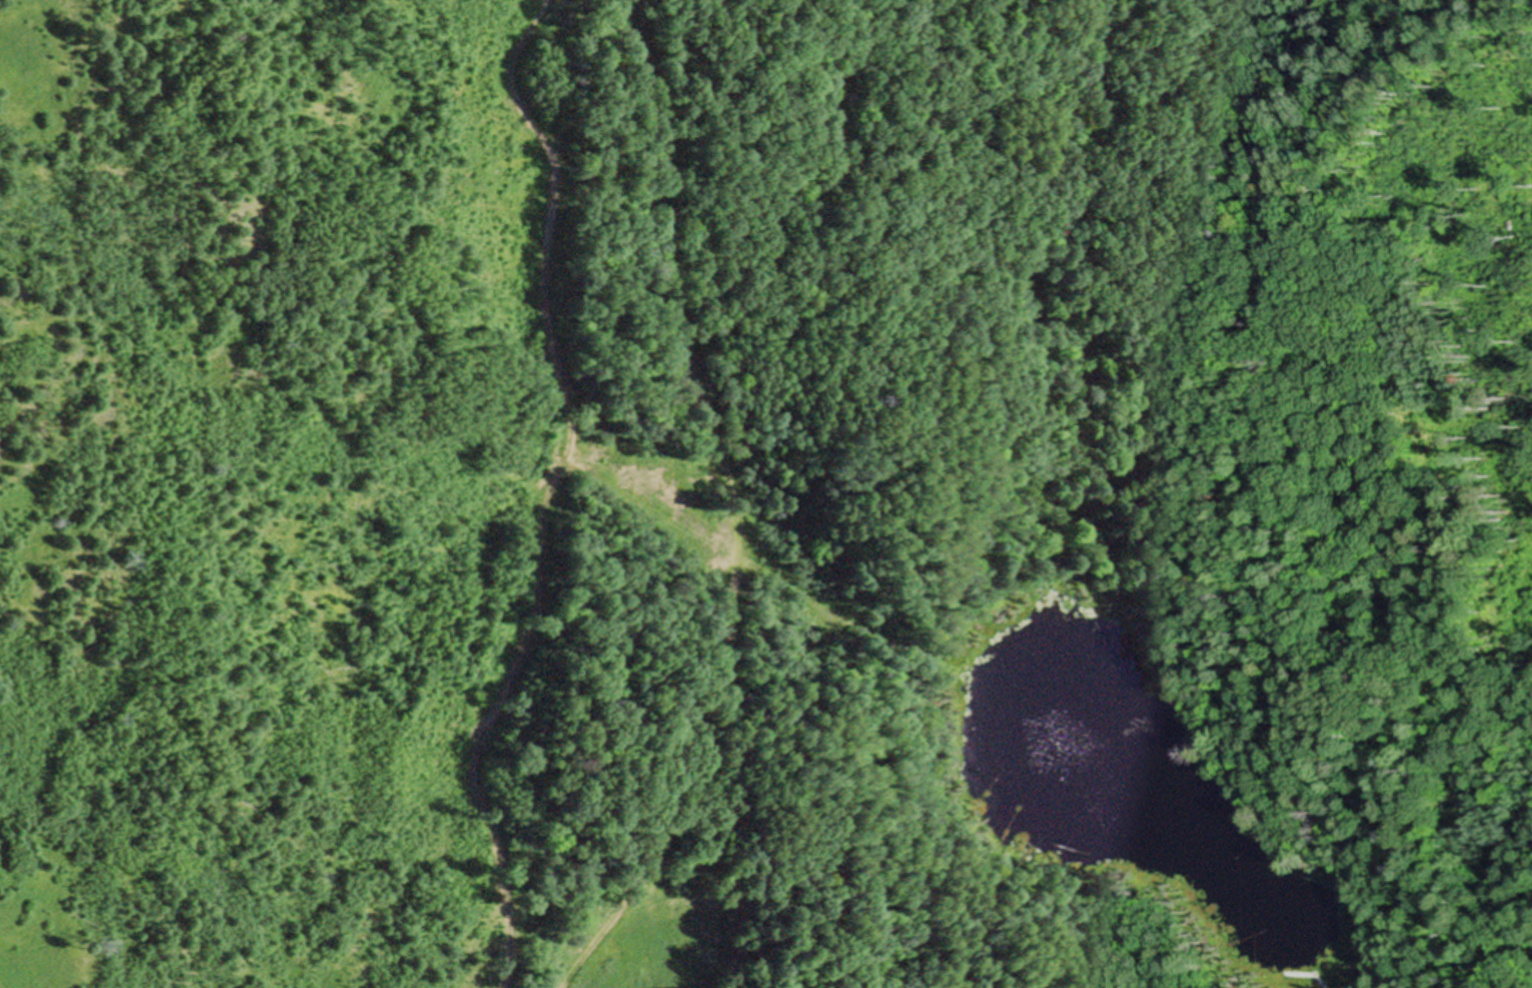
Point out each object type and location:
road: (555, 490)
road: (701, 537)
road: (679, 786)

